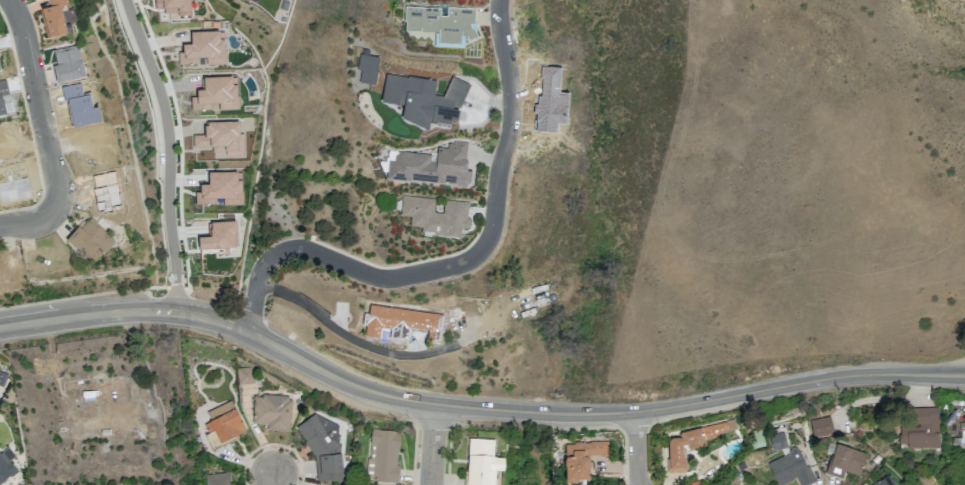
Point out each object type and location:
building: (173, 6)
building: (53, 19)
building: (442, 24)
building: (68, 64)
road: (39, 101)
road: (168, 153)
building: (220, 189)
building: (436, 214)
road: (31, 221)
building: (219, 236)
building: (90, 237)
road: (465, 262)
road: (352, 339)
building: (244, 375)
building: (2, 376)
road: (474, 408)
building: (272, 411)
building: (225, 425)
building: (820, 426)
building: (921, 429)
building: (962, 434)
building: (777, 441)
building: (691, 442)
road: (435, 445)
road: (637, 448)
building: (324, 450)
building: (385, 454)
building: (581, 458)
building: (845, 461)
building: (482, 462)
building: (5, 467)
building: (790, 468)
building: (218, 479)
road: (273, 480)
building: (885, 481)

